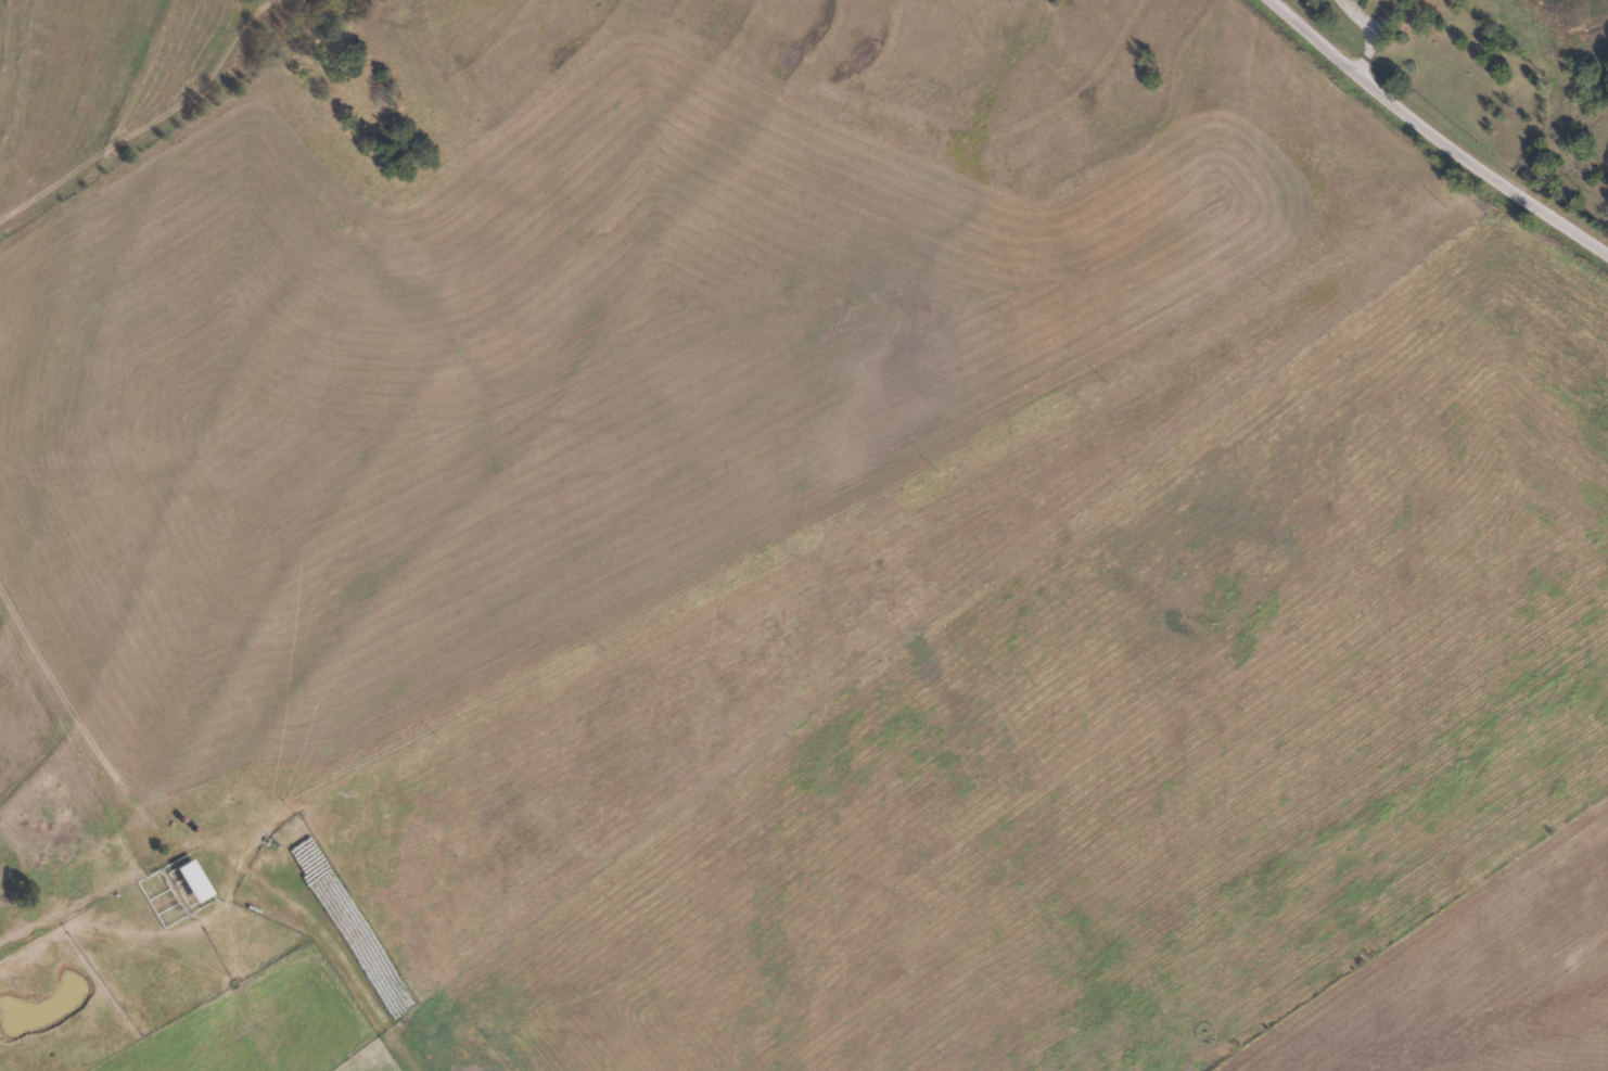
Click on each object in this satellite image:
road: (1302, 40)
road: (1476, 171)

